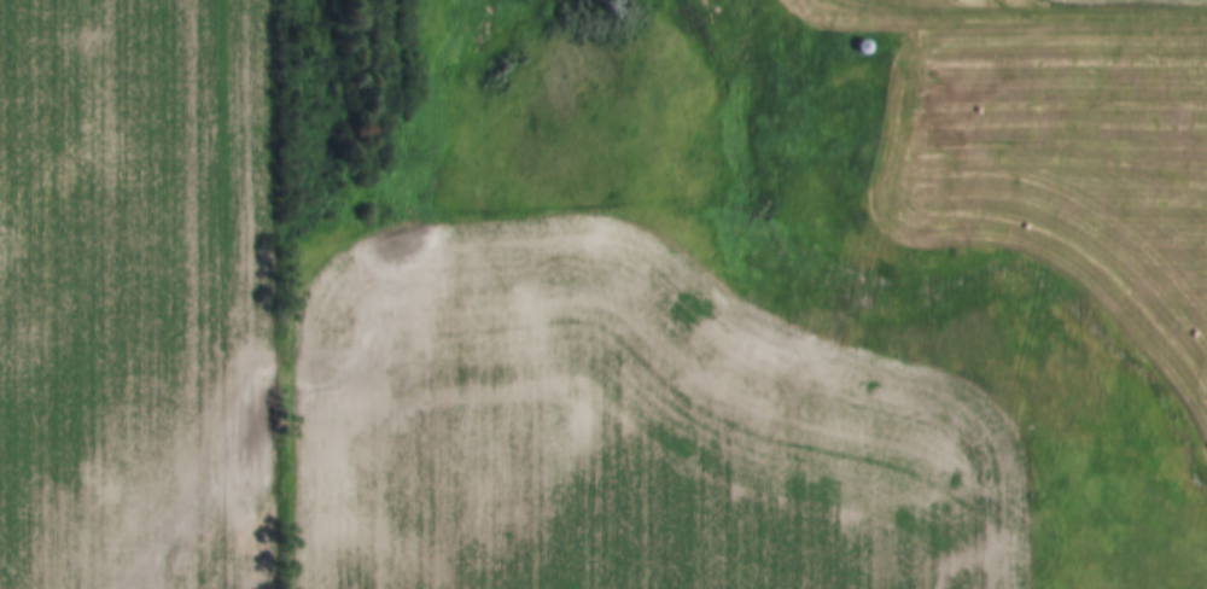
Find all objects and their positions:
road: (1038, 13)

